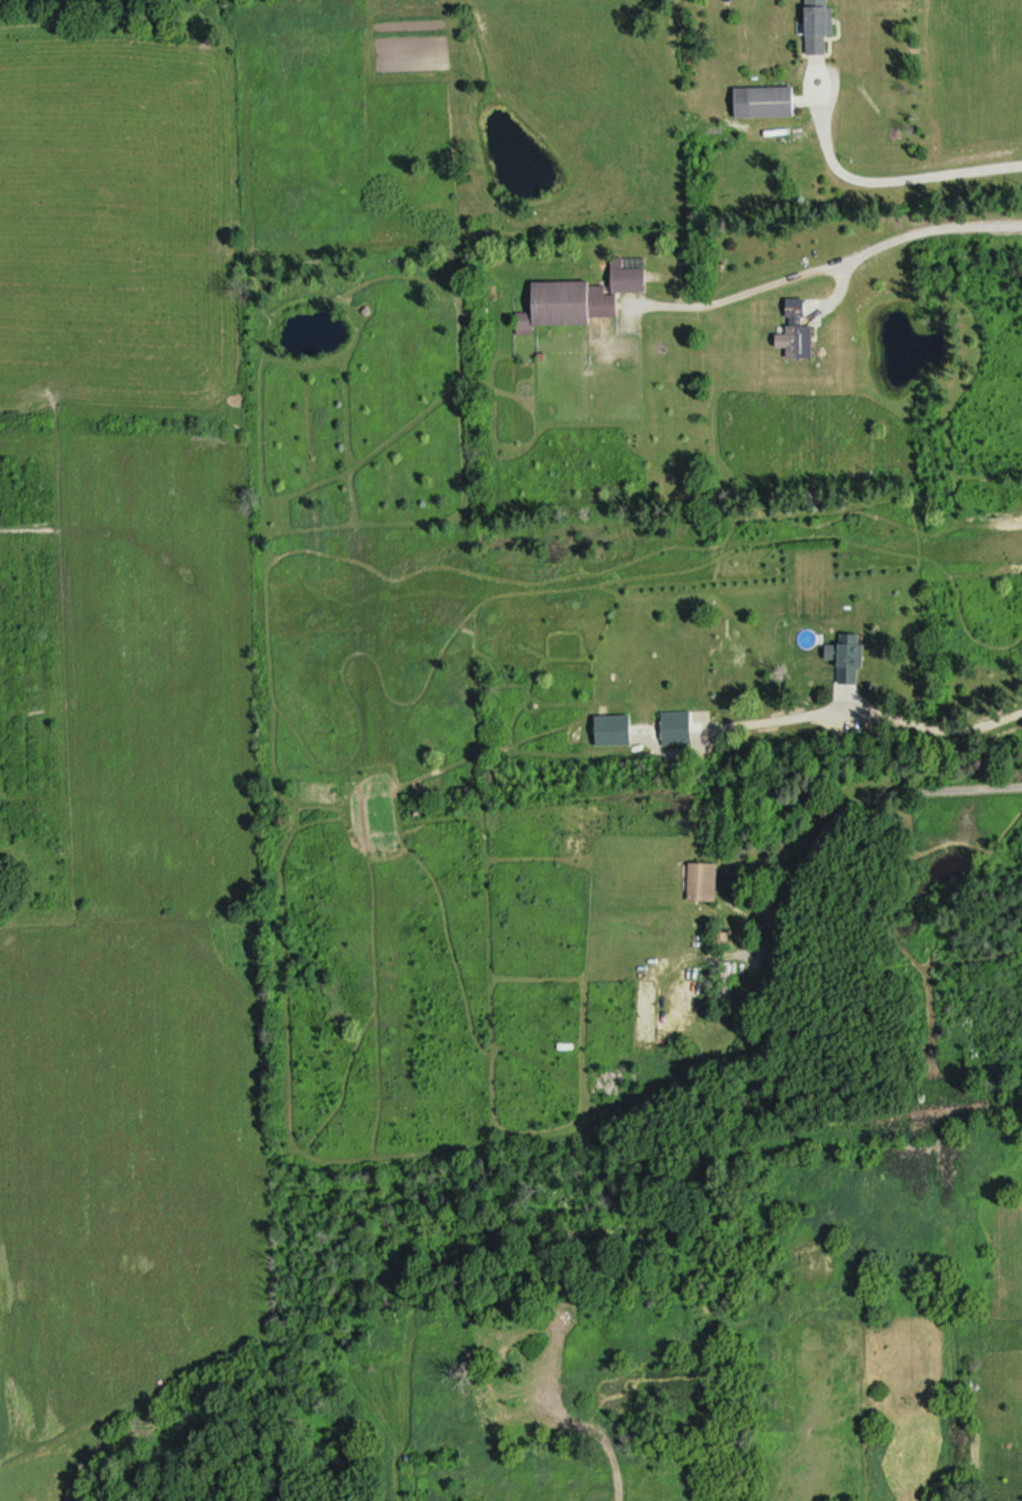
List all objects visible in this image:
building: (819, 28)
building: (765, 104)
road: (891, 179)
road: (835, 262)
building: (797, 334)
building: (851, 661)
building: (676, 730)
road: (934, 731)
building: (614, 733)
road: (853, 807)
building: (704, 884)

